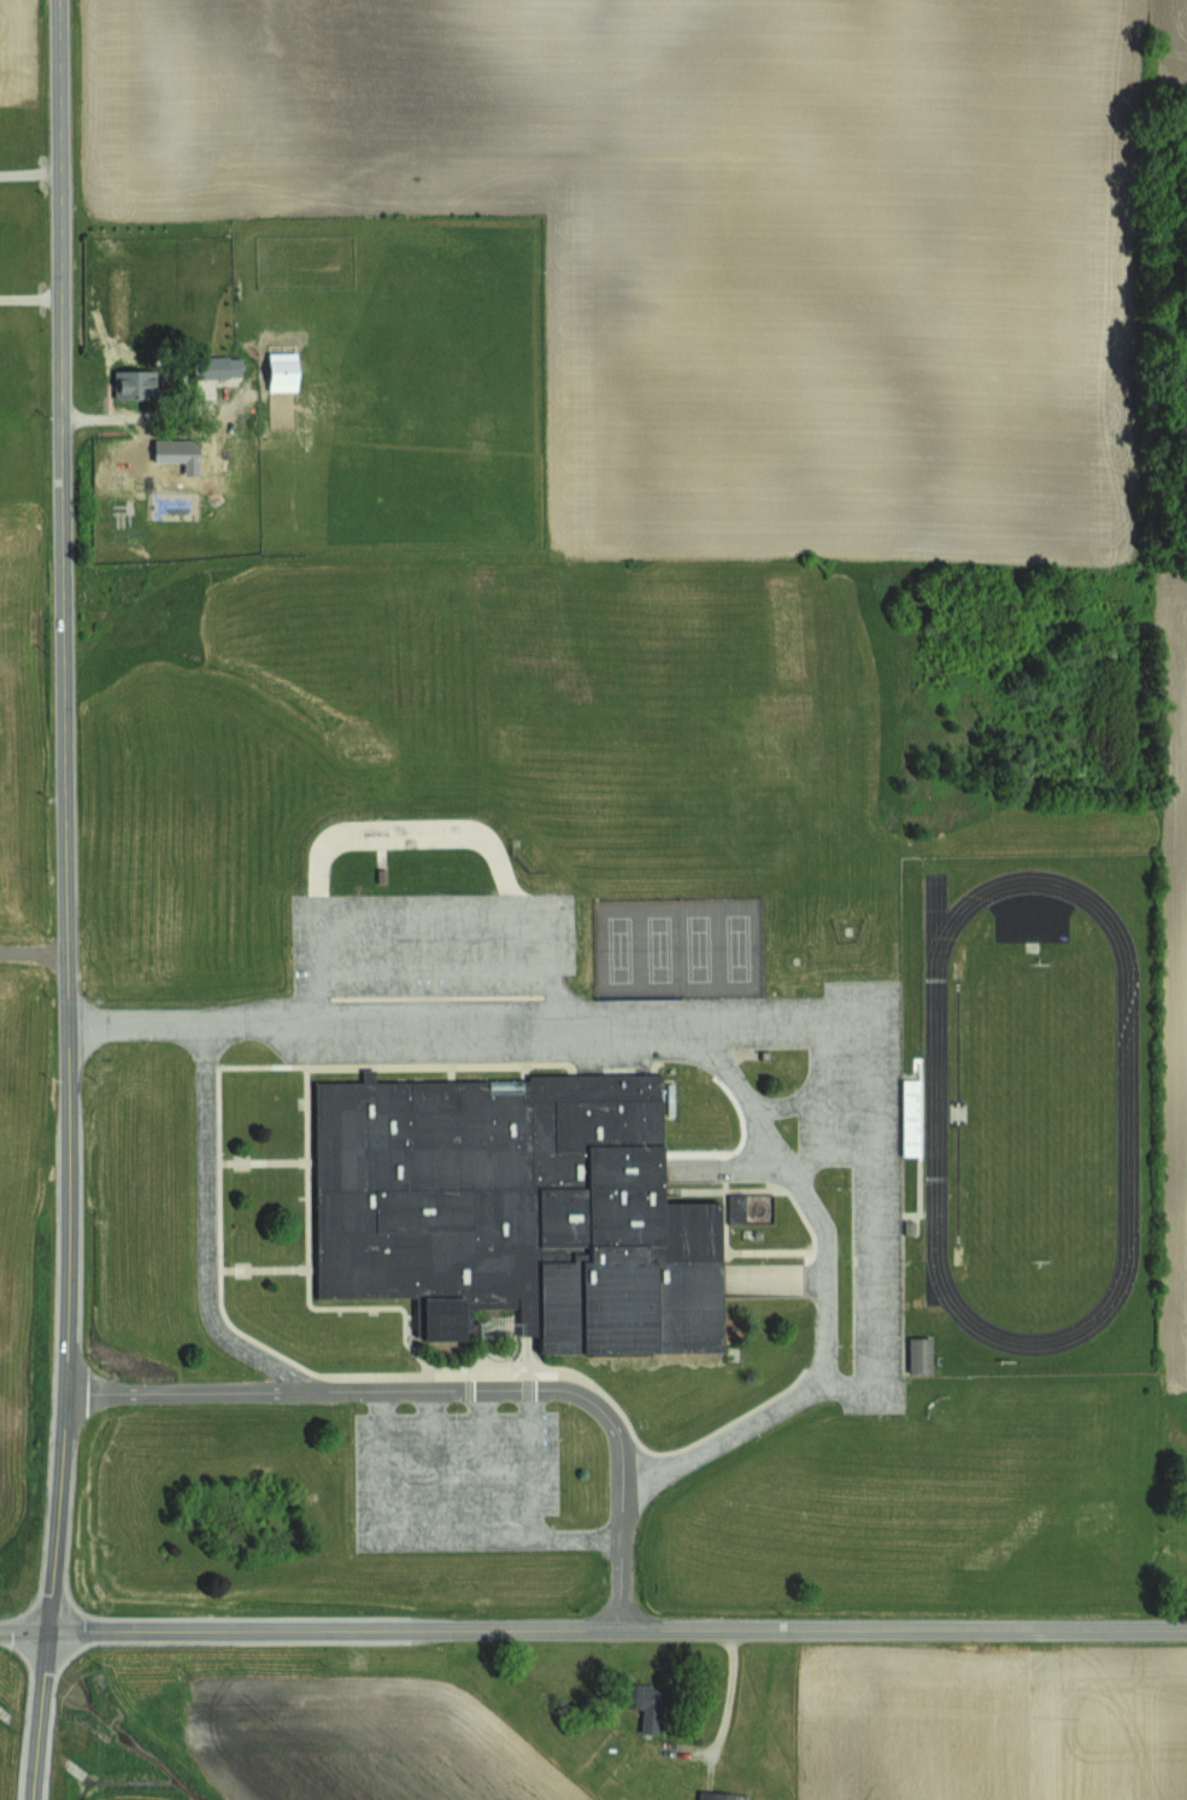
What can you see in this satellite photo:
road: (30, 175)
road: (31, 303)
building: (133, 382)
road: (152, 418)
road: (65, 815)
road: (435, 919)
parking lot: (429, 945)
road: (33, 946)
park: (680, 949)
road: (435, 972)
road: (694, 1025)
road: (827, 1043)
road: (525, 1071)
road: (451, 1074)
park: (1038, 1113)
park: (1029, 1114)
road: (219, 1128)
road: (738, 1148)
road: (266, 1162)
parking lot: (862, 1165)
road: (722, 1167)
road: (875, 1192)
road: (798, 1208)
road: (725, 1209)
building: (512, 1210)
road: (207, 1242)
road: (268, 1270)
road: (308, 1272)
road: (770, 1283)
track: (1113, 1300)
road: (409, 1317)
road: (409, 1332)
building: (918, 1355)
road: (449, 1391)
road: (630, 1429)
road: (484, 1466)
road: (533, 1466)
road: (381, 1467)
road: (433, 1467)
parking lot: (454, 1468)
road: (500, 1541)
road: (616, 1630)
road: (23, 1631)
building: (641, 1705)
road: (39, 1716)
building: (719, 1796)

